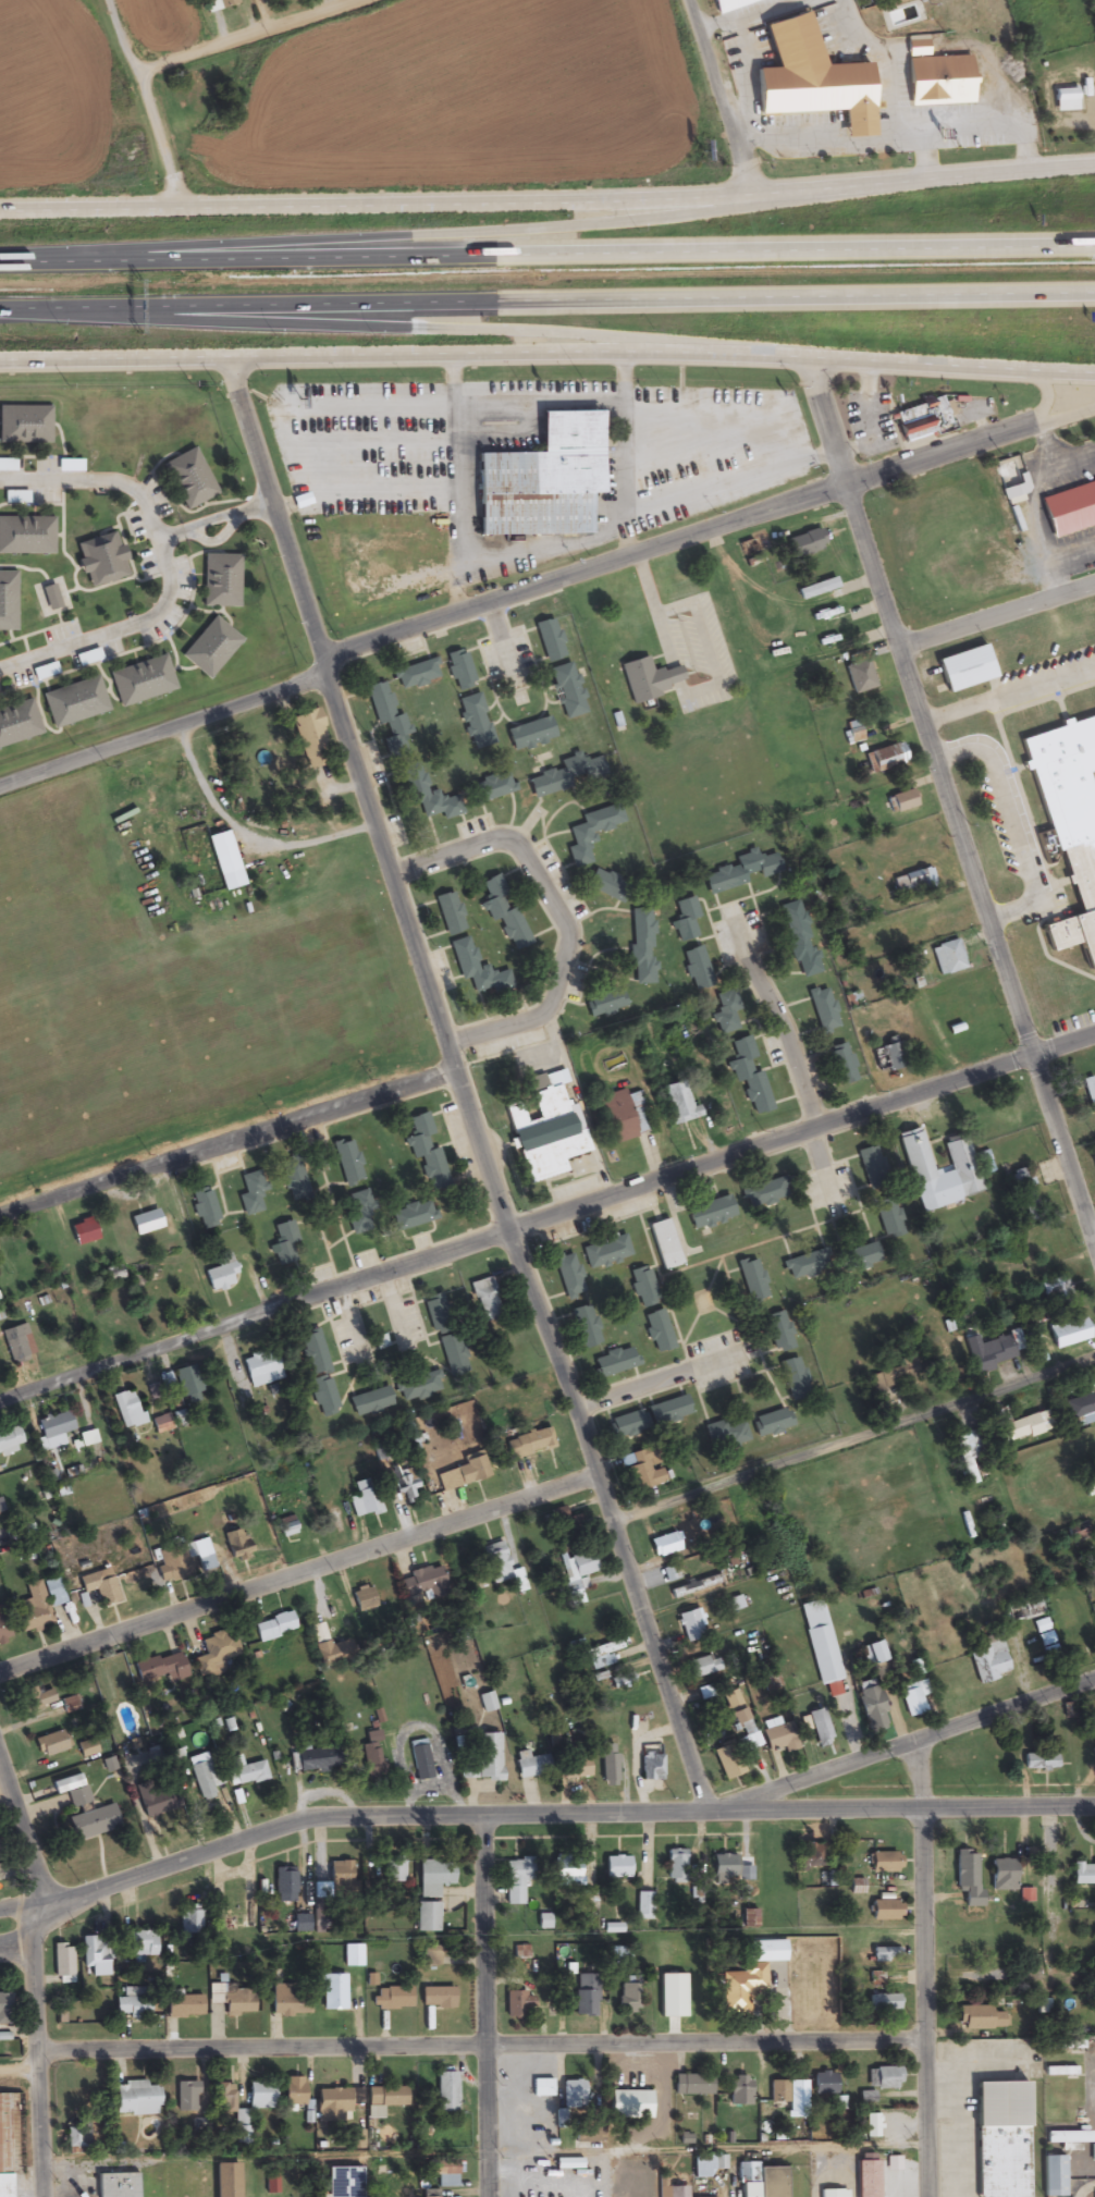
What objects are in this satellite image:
building: (218, 4)
building: (728, 4)
road: (254, 38)
building: (810, 81)
building: (937, 82)
road: (714, 97)
building: (1065, 100)
road: (147, 105)
road: (547, 202)
road: (502, 231)
road: (547, 258)
road: (546, 300)
road: (433, 330)
road: (547, 356)
road: (1044, 398)
road: (1066, 414)
building: (26, 416)
building: (916, 421)
building: (192, 470)
building: (547, 471)
building: (1070, 501)
road: (213, 519)
building: (28, 526)
road: (678, 538)
road: (217, 539)
building: (804, 544)
building: (104, 551)
road: (164, 565)
building: (225, 573)
building: (52, 589)
building: (816, 589)
building: (9, 592)
road: (996, 611)
building: (213, 639)
building: (549, 642)
building: (969, 659)
building: (459, 671)
building: (45, 672)
building: (145, 674)
building: (416, 676)
building: (859, 676)
building: (649, 679)
building: (567, 691)
building: (75, 695)
building: (19, 714)
building: (475, 722)
road: (164, 729)
building: (529, 735)
building: (307, 736)
building: (886, 757)
building: (406, 759)
building: (567, 776)
building: (493, 788)
building: (901, 801)
road: (948, 801)
building: (1070, 808)
building: (579, 840)
building: (223, 862)
building: (739, 873)
building: (913, 882)
building: (603, 885)
road: (558, 911)
building: (503, 912)
building: (450, 916)
building: (685, 921)
building: (798, 941)
building: (640, 947)
building: (947, 958)
building: (475, 970)
building: (697, 970)
building: (822, 1010)
building: (727, 1014)
building: (893, 1055)
building: (840, 1064)
building: (748, 1073)
road: (462, 1085)
building: (1090, 1095)
building: (677, 1103)
building: (617, 1116)
building: (543, 1127)
road: (229, 1146)
building: (425, 1146)
building: (346, 1162)
building: (871, 1167)
building: (938, 1170)
building: (292, 1177)
building: (250, 1194)
building: (761, 1194)
building: (204, 1208)
building: (356, 1208)
building: (709, 1213)
building: (411, 1216)
road: (549, 1216)
building: (145, 1223)
building: (82, 1232)
road: (1094, 1239)
building: (283, 1244)
building: (664, 1244)
building: (605, 1252)
building: (856, 1259)
building: (804, 1265)
building: (220, 1274)
building: (567, 1276)
building: (750, 1280)
building: (642, 1287)
building: (1055, 1288)
building: (484, 1299)
building: (435, 1313)
building: (585, 1327)
building: (657, 1331)
building: (777, 1331)
building: (1069, 1333)
building: (14, 1345)
building: (993, 1349)
building: (452, 1357)
building: (613, 1363)
building: (260, 1370)
building: (791, 1376)
building: (320, 1377)
building: (185, 1382)
building: (419, 1386)
building: (530, 1401)
building: (369, 1402)
building: (1076, 1407)
building: (127, 1410)
building: (669, 1411)
building: (770, 1423)
building: (160, 1424)
building: (626, 1425)
building: (1018, 1425)
building: (54, 1426)
building: (728, 1434)
building: (86, 1438)
building: (10, 1443)
road: (852, 1443)
building: (528, 1444)
building: (968, 1456)
building: (639, 1472)
building: (463, 1473)
building: (402, 1484)
building: (362, 1498)
building: (750, 1518)
building: (565, 1522)
building: (287, 1529)
building: (1075, 1531)
building: (235, 1545)
building: (664, 1545)
building: (184, 1558)
building: (578, 1563)
building: (501, 1567)
road: (296, 1572)
building: (668, 1573)
building: (421, 1581)
building: (694, 1586)
building: (362, 1599)
building: (33, 1609)
building: (1022, 1610)
building: (690, 1625)
building: (274, 1627)
building: (820, 1644)
building: (327, 1648)
building: (216, 1652)
building: (874, 1653)
building: (601, 1655)
building: (988, 1662)
building: (699, 1667)
building: (162, 1668)
building: (620, 1681)
building: (910, 1697)
building: (34, 1698)
building: (487, 1702)
building: (733, 1707)
building: (872, 1713)
building: (819, 1728)
building: (773, 1734)
building: (50, 1744)
road: (900, 1745)
building: (371, 1755)
building: (482, 1758)
building: (309, 1760)
building: (420, 1760)
building: (726, 1762)
building: (1038, 1762)
building: (531, 1765)
building: (607, 1765)
building: (650, 1767)
building: (574, 1768)
building: (246, 1771)
building: (201, 1781)
building: (71, 1790)
road: (554, 1814)
building: (93, 1822)
road: (24, 1834)
building: (810, 1856)
building: (883, 1862)
building: (675, 1865)
building: (722, 1866)
building: (615, 1867)
building: (393, 1869)
building: (565, 1869)
building: (1001, 1875)
building: (1083, 1875)
building: (433, 1877)
building: (967, 1877)
building: (340, 1878)
building: (514, 1883)
building: (284, 1885)
building: (643, 1905)
building: (884, 1910)
road: (15, 1912)
building: (235, 1915)
building: (426, 1917)
building: (748, 1917)
building: (189, 1919)
building: (300, 1923)
road: (588, 1934)
road: (19, 1935)
building: (142, 1943)
building: (885, 1954)
building: (352, 1955)
building: (95, 1956)
building: (619, 1956)
building: (63, 1966)
road: (924, 1967)
building: (749, 1975)
building: (333, 1992)
building: (585, 1995)
building: (627, 1997)
building: (233, 1998)
building: (435, 1998)
building: (392, 1999)
building: (288, 2000)
building: (883, 2002)
building: (133, 2003)
building: (518, 2003)
building: (183, 2005)
road: (484, 2005)
building: (2, 2010)
building: (980, 2018)
road: (460, 2047)
road: (39, 2057)
building: (882, 2078)
building: (823, 2083)
building: (692, 2085)
building: (541, 2088)
building: (738, 2090)
building: (780, 2091)
building: (445, 2092)
building: (292, 2094)
building: (571, 2094)
building: (260, 2096)
building: (186, 2097)
building: (386, 2097)
building: (135, 2099)
building: (629, 2104)
building: (329, 2106)
building: (870, 2126)
building: (76, 2135)
building: (588, 2135)
building: (1000, 2139)
building: (1067, 2139)
building: (4, 2147)
building: (567, 2164)
building: (446, 2176)
building: (1051, 2176)
building: (763, 2178)
building: (865, 2178)
building: (225, 2181)
building: (270, 2182)
building: (343, 2182)
building: (115, 2185)
building: (406, 2185)
building: (677, 2192)
building: (833, 2193)
building: (1094, 2195)

